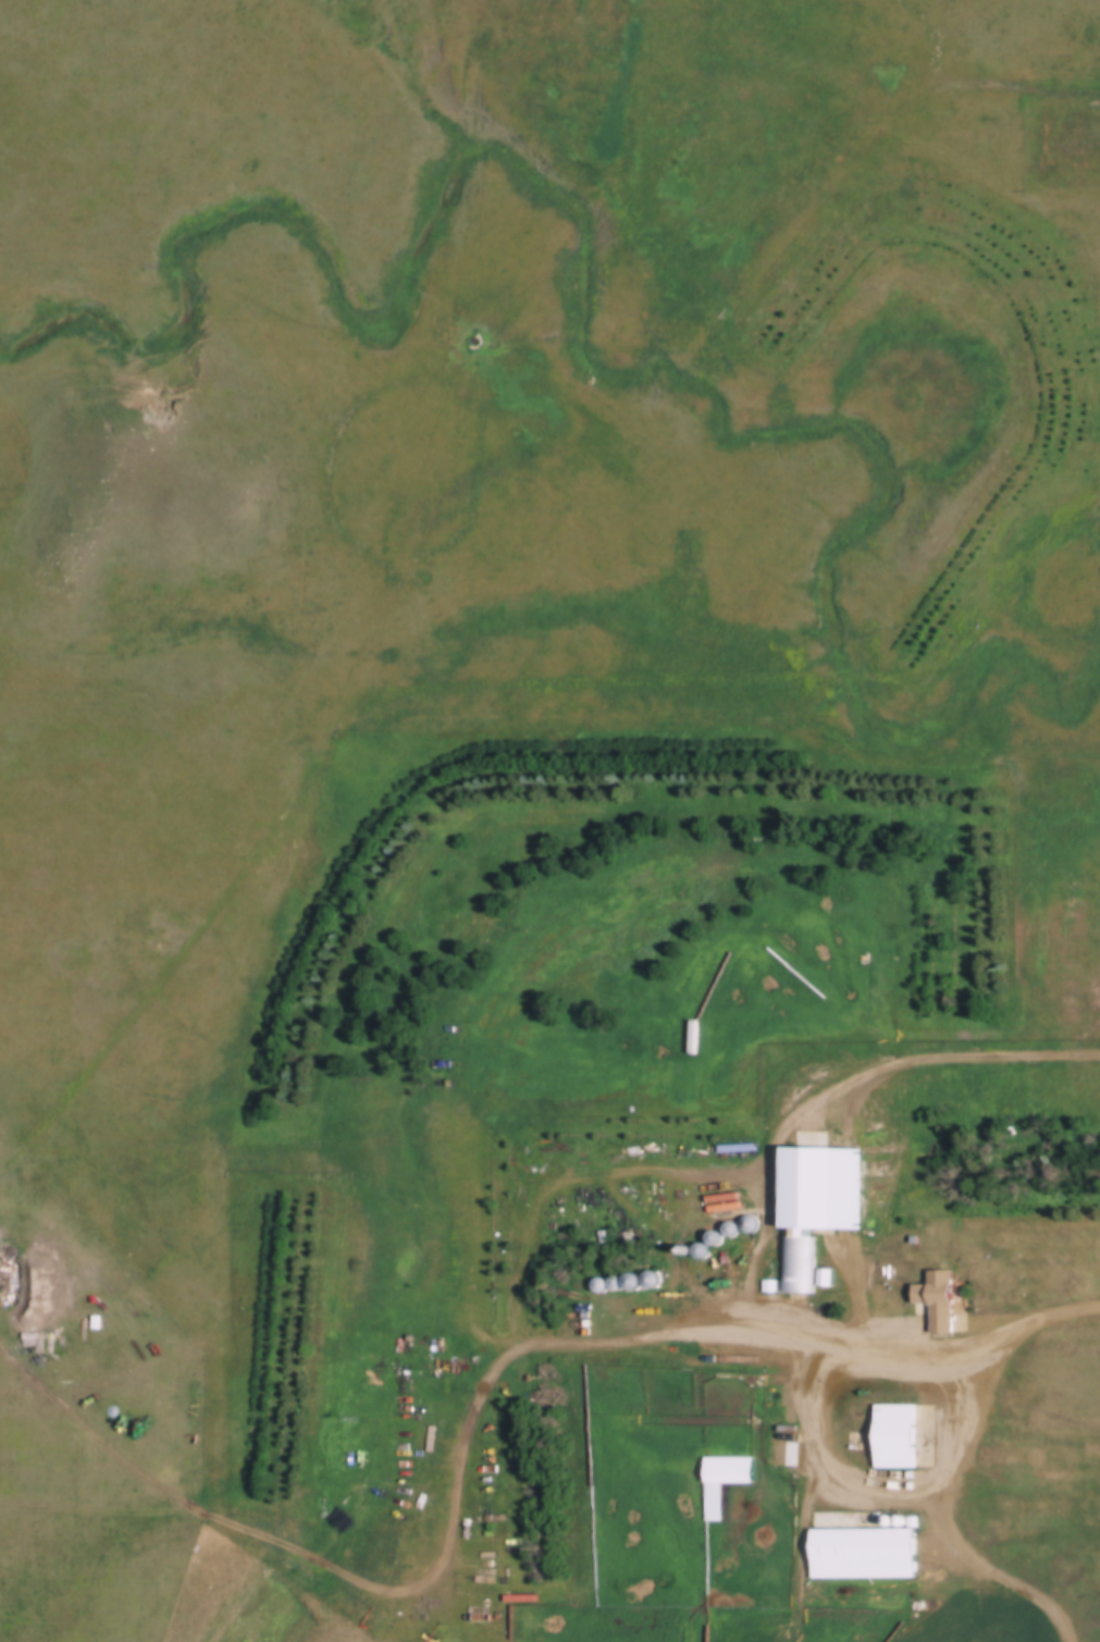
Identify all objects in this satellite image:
building: (695, 1036)
building: (626, 1238)
building: (941, 1301)
road: (914, 1348)
building: (898, 1439)
building: (725, 1483)
building: (886, 1550)

